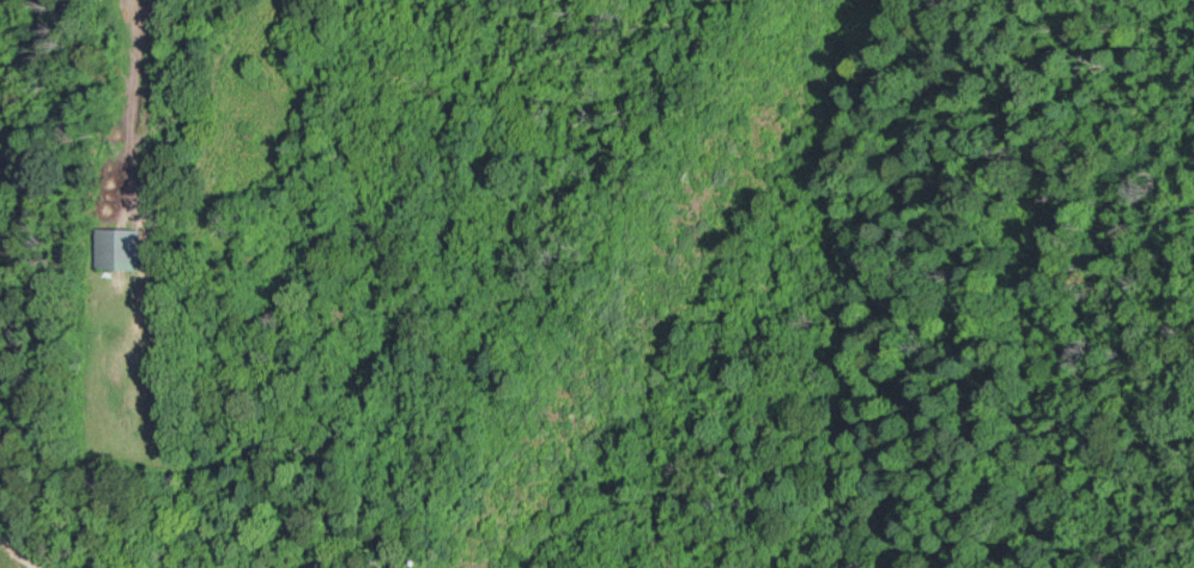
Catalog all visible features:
building: (120, 248)
power tower: (12, 567)

